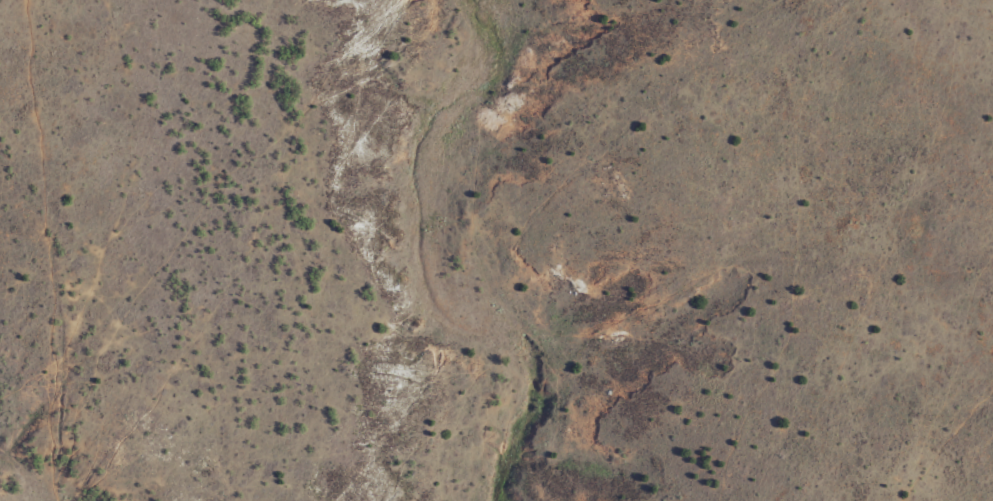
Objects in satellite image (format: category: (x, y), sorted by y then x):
road: (934, 419)

